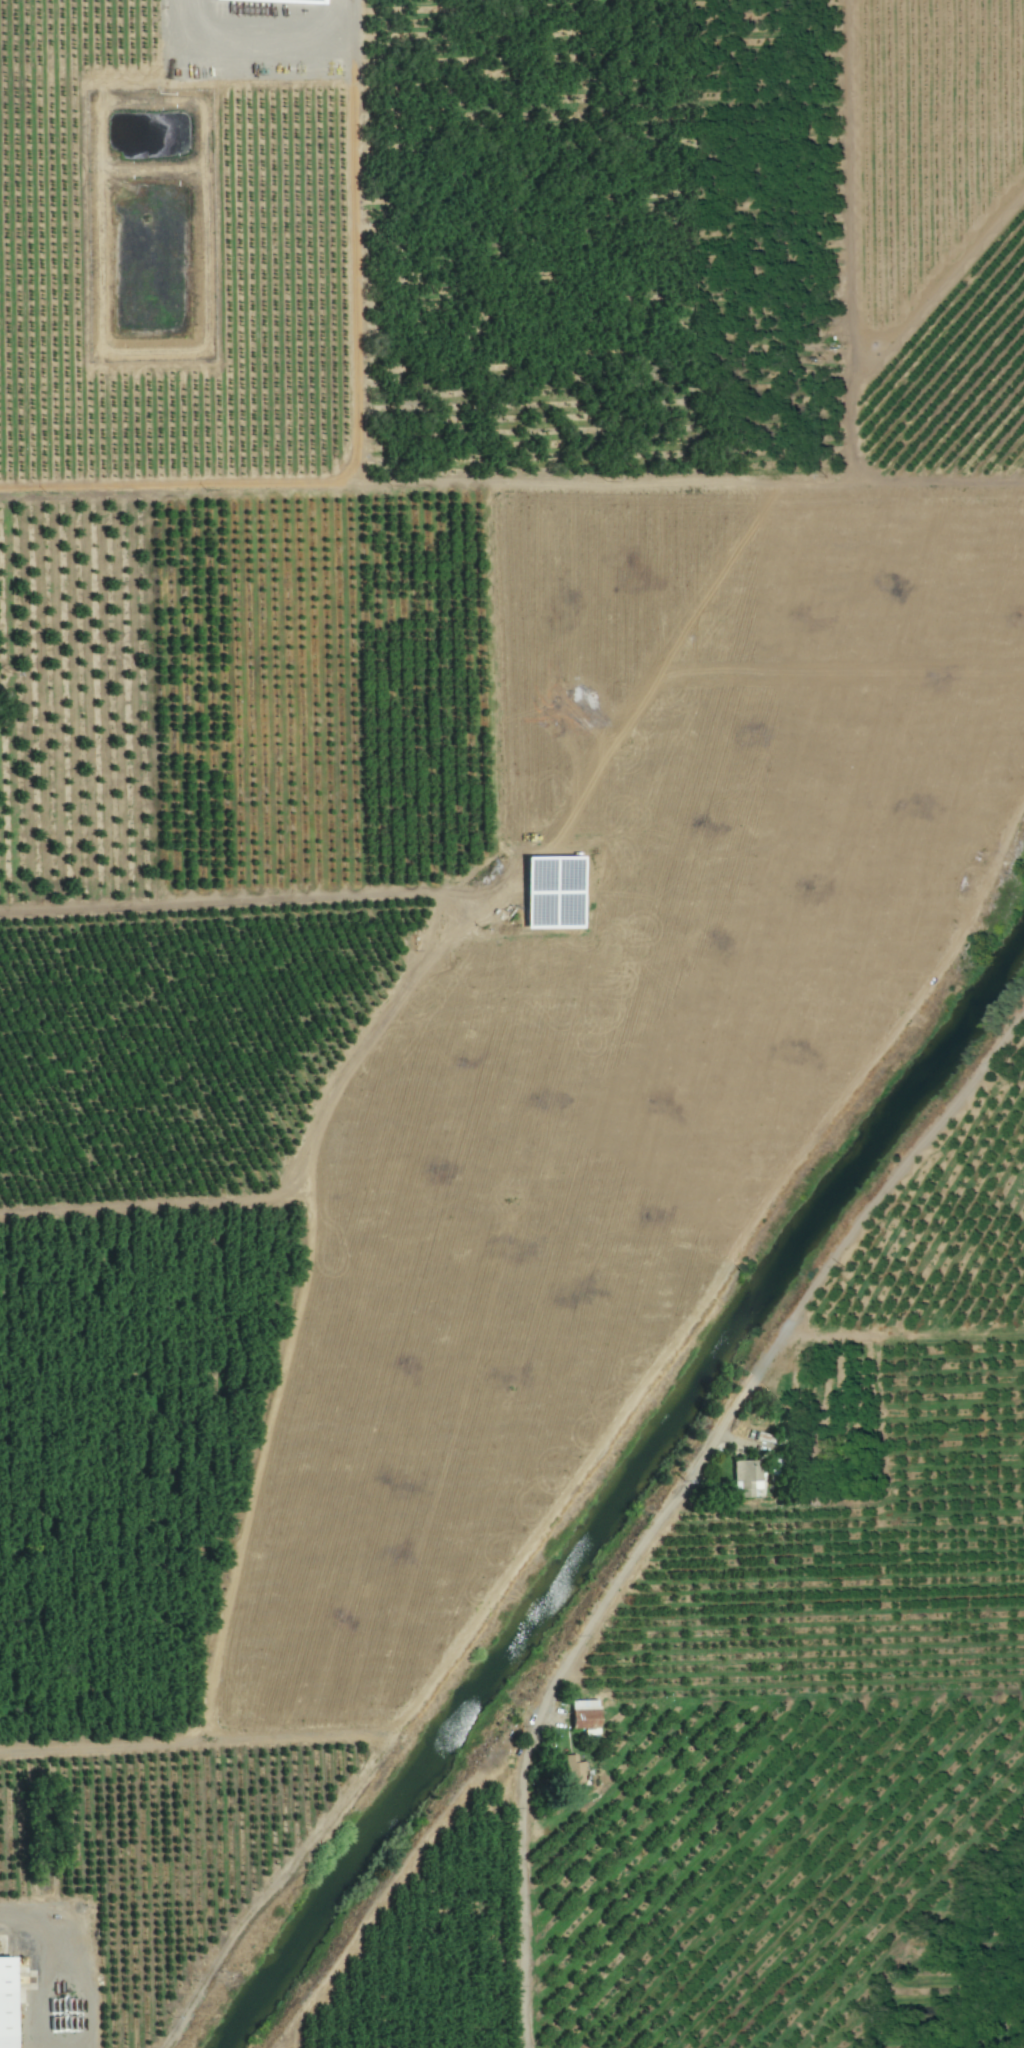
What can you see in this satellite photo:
road: (750, 1382)
building: (748, 1475)
building: (585, 1713)
building: (575, 1769)
road: (524, 1913)
building: (7, 2002)

